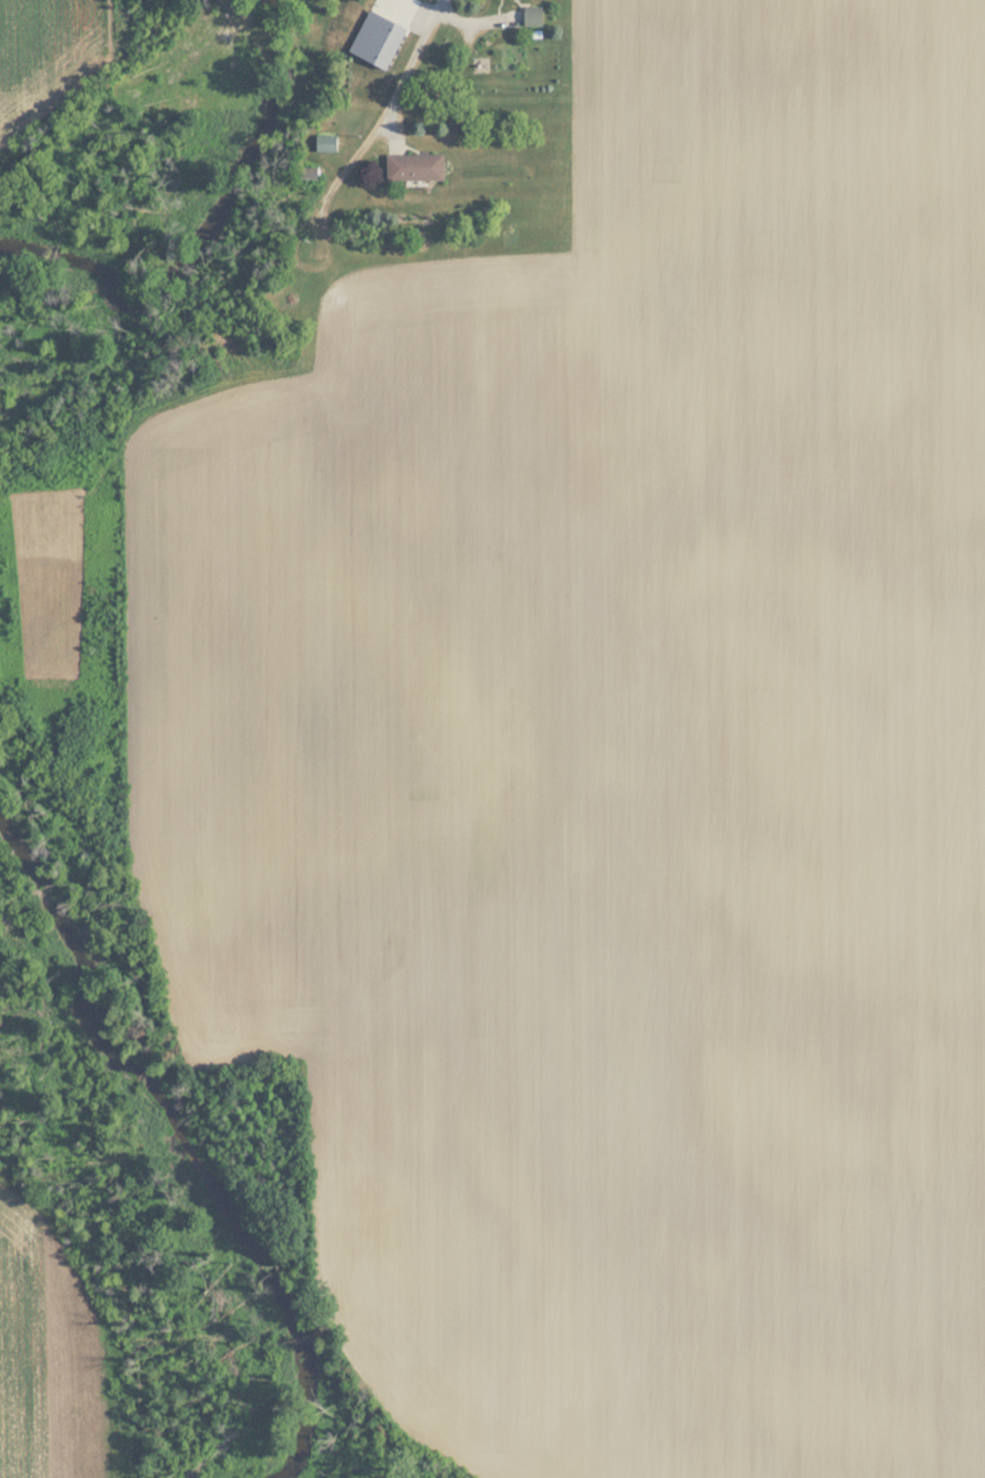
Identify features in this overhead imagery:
building: (530, 17)
road: (471, 27)
road: (377, 124)
road: (391, 129)
building: (328, 145)
building: (411, 168)
river: (195, 225)
river: (178, 1150)

